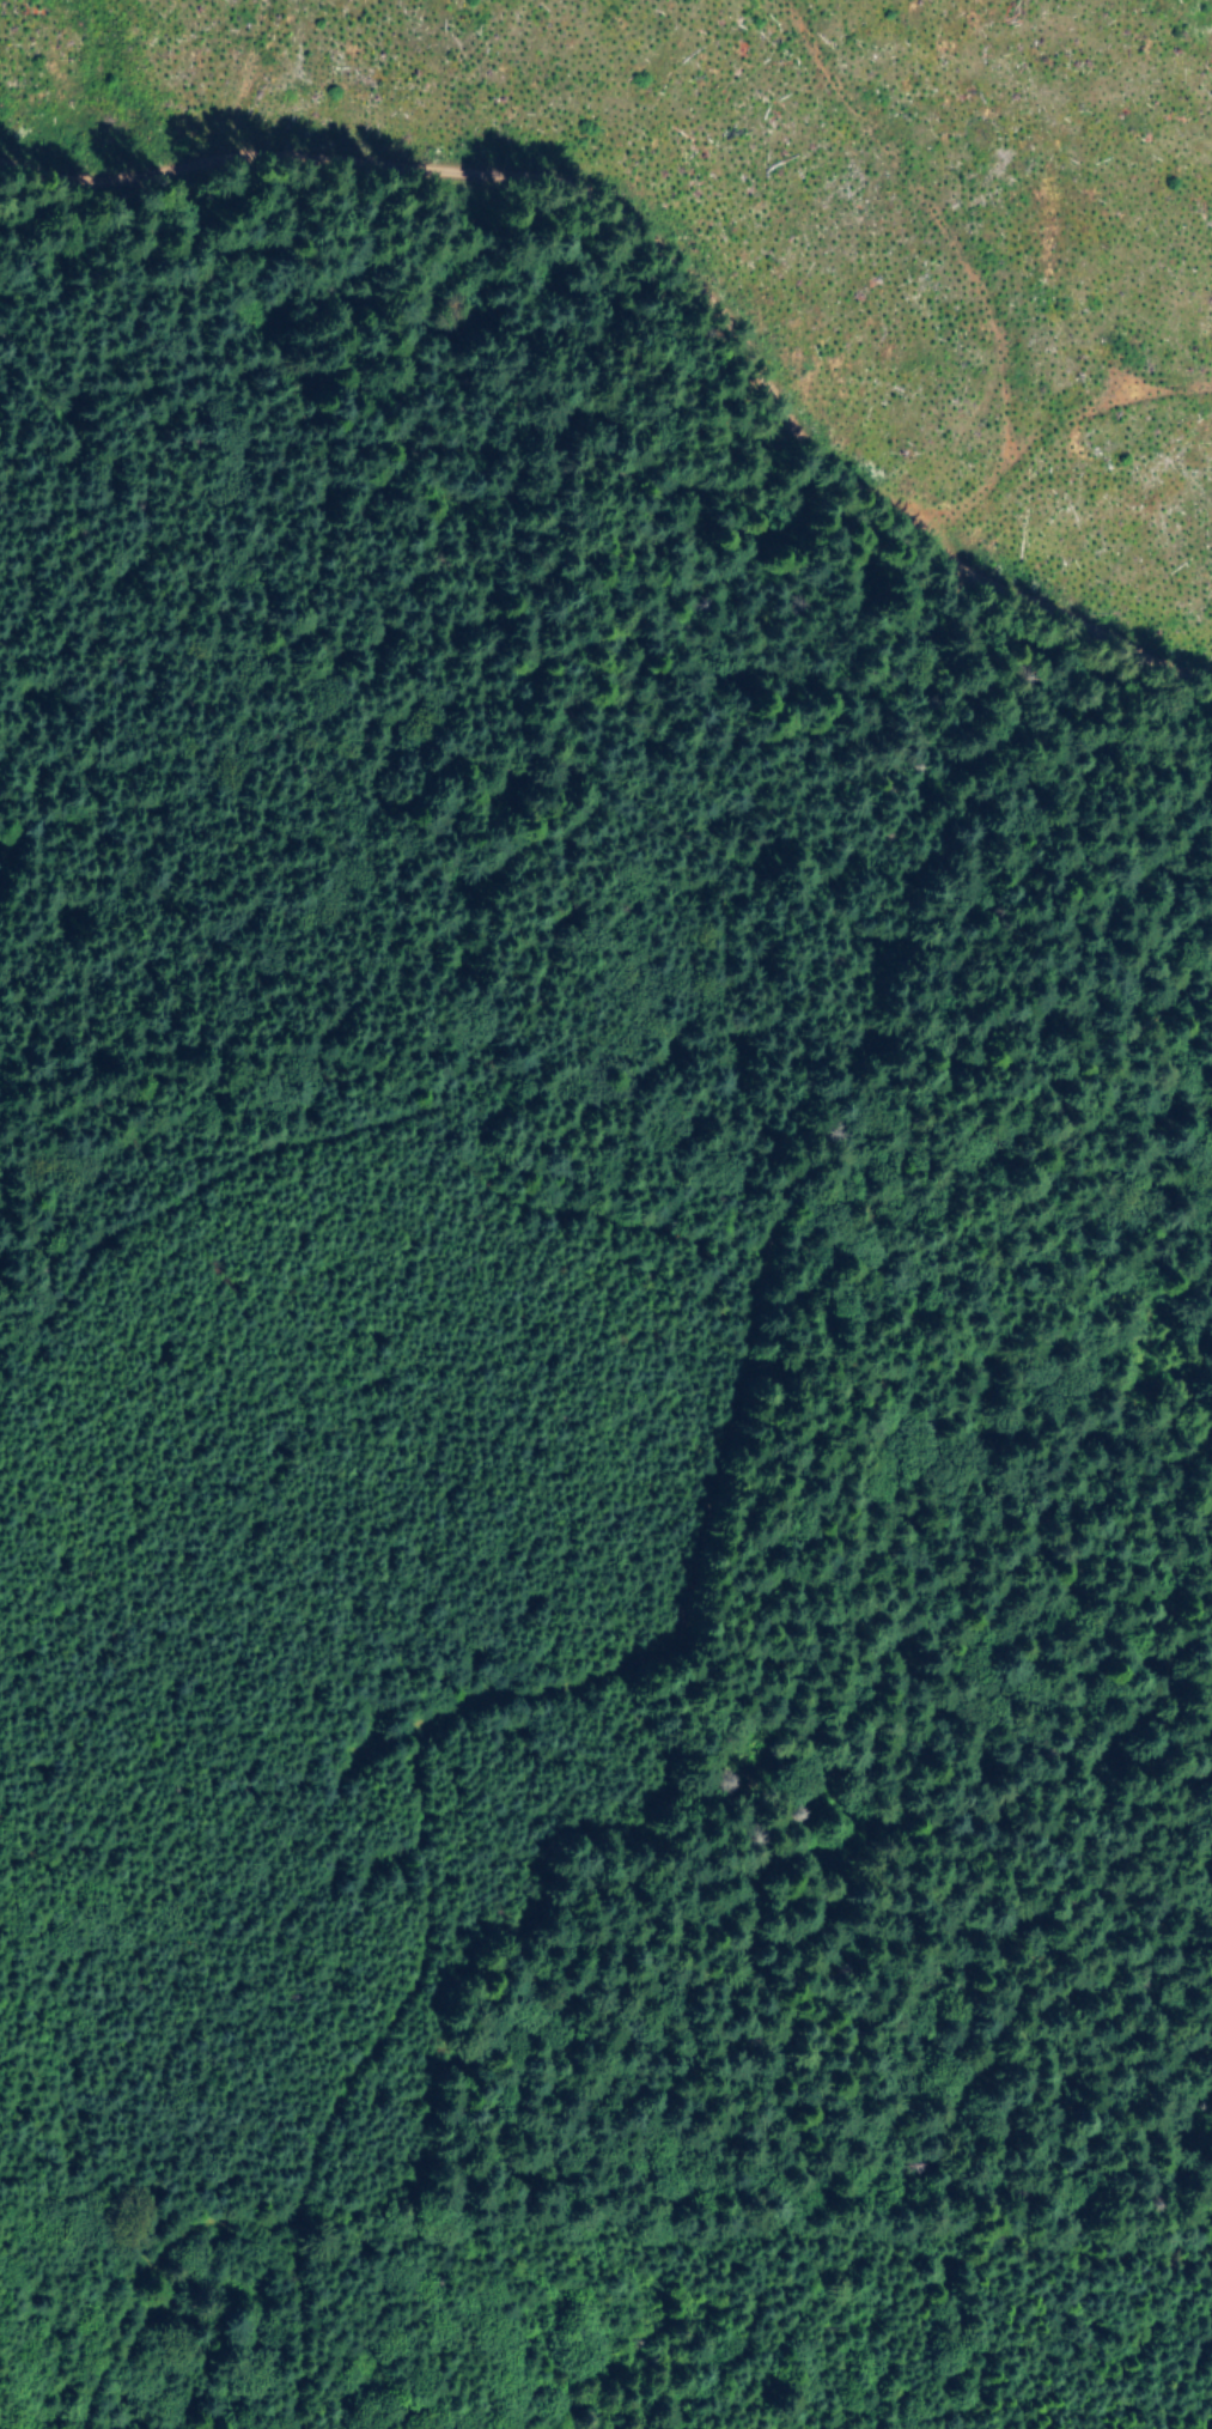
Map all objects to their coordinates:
road: (672, 268)

